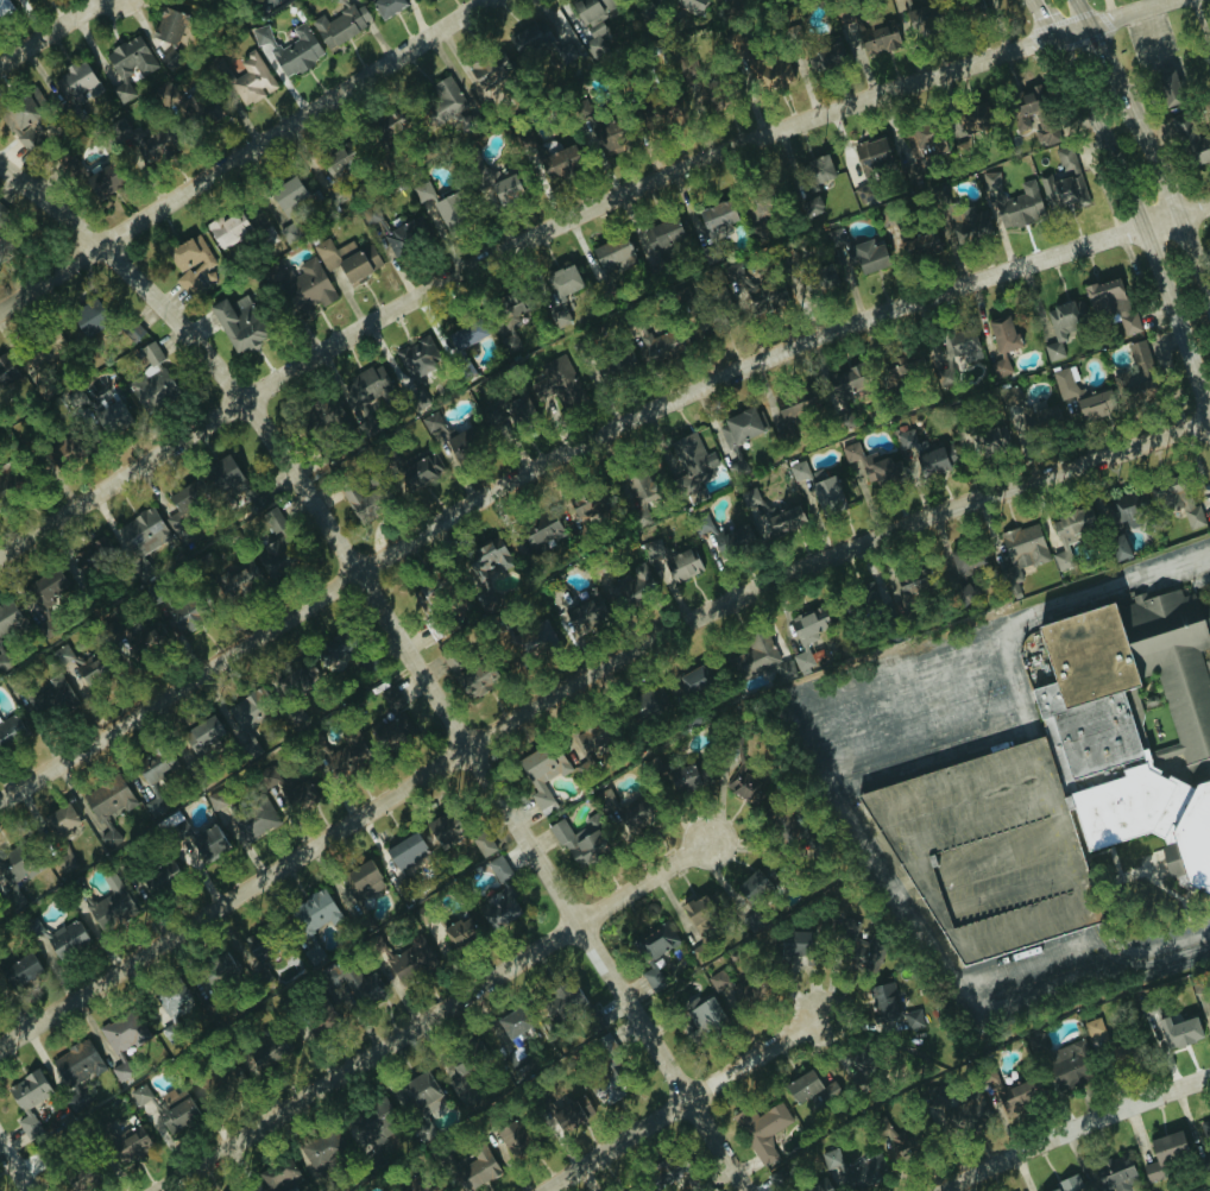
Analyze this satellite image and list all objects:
building: (900, 4)
building: (990, 4)
building: (4, 5)
building: (689, 5)
building: (385, 6)
building: (735, 6)
building: (591, 14)
building: (918, 15)
road: (1040, 20)
building: (339, 24)
building: (166, 26)
road: (50, 31)
building: (878, 34)
building: (529, 38)
building: (289, 48)
building: (828, 55)
building: (559, 56)
building: (128, 58)
building: (487, 69)
building: (770, 71)
building: (251, 80)
building: (77, 83)
building: (1171, 87)
building: (441, 103)
building: (202, 109)
building: (1032, 115)
building: (972, 119)
building: (23, 120)
building: (379, 136)
building: (605, 139)
building: (1191, 140)
building: (924, 141)
building: (156, 143)
road: (1149, 147)
road: (244, 153)
building: (871, 156)
building: (332, 160)
building: (556, 162)
building: (65, 164)
building: (818, 169)
building: (489, 178)
building: (1066, 179)
building: (99, 181)
building: (990, 181)
building: (421, 191)
building: (284, 193)
building: (809, 204)
building: (1020, 206)
building: (446, 209)
building: (1, 212)
building: (714, 215)
building: (969, 223)
road: (1143, 223)
road: (562, 226)
building: (226, 228)
building: (661, 233)
building: (757, 233)
building: (404, 235)
building: (834, 237)
building: (918, 242)
building: (612, 254)
building: (866, 256)
building: (346, 259)
building: (185, 263)
building: (825, 276)
building: (561, 283)
building: (298, 284)
building: (762, 295)
building: (1104, 297)
building: (84, 321)
building: (505, 322)
building: (235, 323)
building: (1128, 324)
building: (1060, 326)
building: (701, 333)
building: (462, 334)
building: (1001, 334)
building: (657, 345)
building: (958, 348)
building: (42, 351)
building: (415, 359)
building: (613, 365)
building: (998, 366)
building: (5, 367)
building: (902, 367)
building: (1137, 368)
building: (150, 378)
building: (554, 384)
building: (363, 392)
building: (843, 395)
building: (75, 398)
building: (1060, 403)
building: (108, 414)
building: (510, 414)
building: (328, 416)
building: (429, 422)
building: (735, 431)
building: (985, 440)
building: (459, 443)
road: (580, 452)
building: (921, 455)
building: (689, 466)
building: (870, 470)
building: (420, 471)
building: (234, 487)
building: (636, 489)
building: (826, 496)
building: (749, 497)
building: (359, 503)
building: (1173, 505)
building: (1124, 508)
building: (586, 509)
building: (177, 510)
building: (782, 521)
building: (700, 523)
building: (140, 533)
building: (538, 533)
building: (1067, 534)
building: (736, 538)
building: (1022, 547)
building: (651, 549)
building: (1116, 549)
building: (90, 555)
building: (271, 556)
building: (964, 563)
building: (674, 566)
building: (140, 572)
building: (909, 584)
road: (1107, 585)
building: (628, 587)
building: (46, 588)
road: (380, 599)
building: (177, 613)
building: (584, 615)
building: (8, 619)
building: (445, 628)
building: (112, 629)
building: (807, 635)
building: (534, 641)
building: (329, 651)
building: (758, 661)
building: (75, 666)
building: (473, 678)
road: (578, 680)
building: (50, 700)
building: (647, 702)
building: (241, 713)
building: (295, 717)
building: (10, 732)
building: (391, 732)
building: (201, 735)
building: (590, 736)
building: (345, 752)
road: (935, 760)
building: (156, 768)
building: (541, 771)
road: (827, 774)
building: (685, 779)
building: (1067, 782)
building: (749, 789)
building: (295, 794)
building: (601, 798)
building: (153, 804)
building: (106, 807)
building: (252, 819)
building: (57, 820)
building: (786, 826)
building: (439, 830)
building: (576, 842)
building: (481, 844)
building: (203, 847)
building: (404, 851)
building: (64, 863)
building: (15, 867)
building: (497, 869)
building: (359, 881)
building: (749, 886)
building: (109, 906)
building: (498, 908)
building: (699, 919)
building: (310, 922)
building: (458, 932)
building: (57, 938)
building: (654, 941)
building: (793, 944)
road: (1148, 951)
building: (864, 953)
building: (407, 959)
road: (1140, 964)
road: (1026, 965)
building: (20, 970)
building: (216, 971)
road: (1159, 973)
building: (651, 978)
building: (717, 985)
building: (361, 988)
building: (169, 1000)
building: (561, 1002)
building: (887, 1006)
building: (1209, 1009)
road: (433, 1015)
building: (704, 1016)
building: (591, 1021)
building: (321, 1022)
building: (510, 1025)
building: (121, 1032)
building: (1174, 1034)
building: (1035, 1044)
building: (267, 1048)
road: (752, 1057)
building: (512, 1058)
building: (76, 1064)
building: (1070, 1064)
building: (218, 1082)
building: (604, 1084)
building: (807, 1089)
building: (418, 1091)
building: (460, 1091)
building: (1006, 1092)
building: (139, 1095)
building: (26, 1099)
building: (175, 1110)
building: (569, 1110)
building: (968, 1113)
building: (422, 1130)
building: (764, 1132)
road: (1077, 1132)
building: (1205, 1133)
building: (510, 1138)
building: (896, 1143)
road: (615, 1145)
road: (716, 1145)
building: (128, 1148)
building: (321, 1151)
building: (1168, 1153)
road: (14, 1166)
building: (474, 1168)
building: (849, 1171)
building: (278, 1176)
building: (1114, 1176)
building: (777, 1179)
building: (1069, 1184)
building: (817, 1187)
building: (422, 1189)

